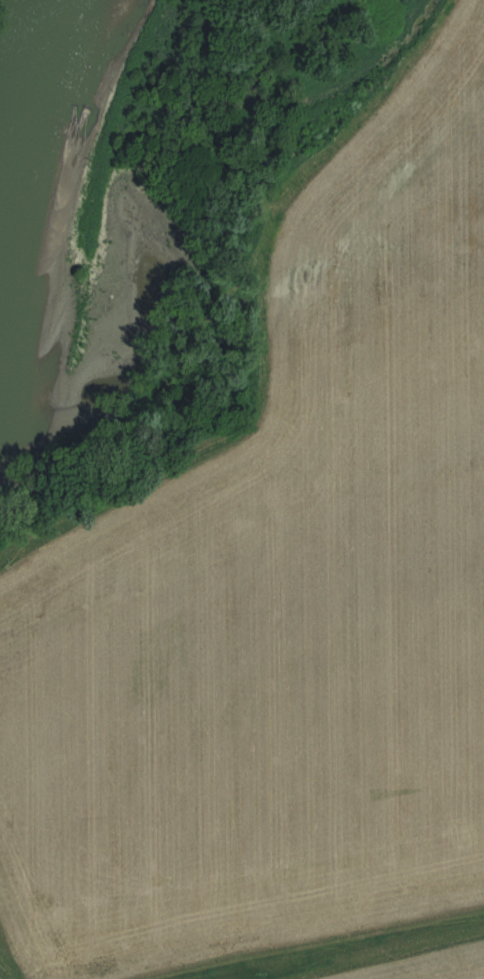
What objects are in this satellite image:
river: (33, 207)
crop: (276, 574)

